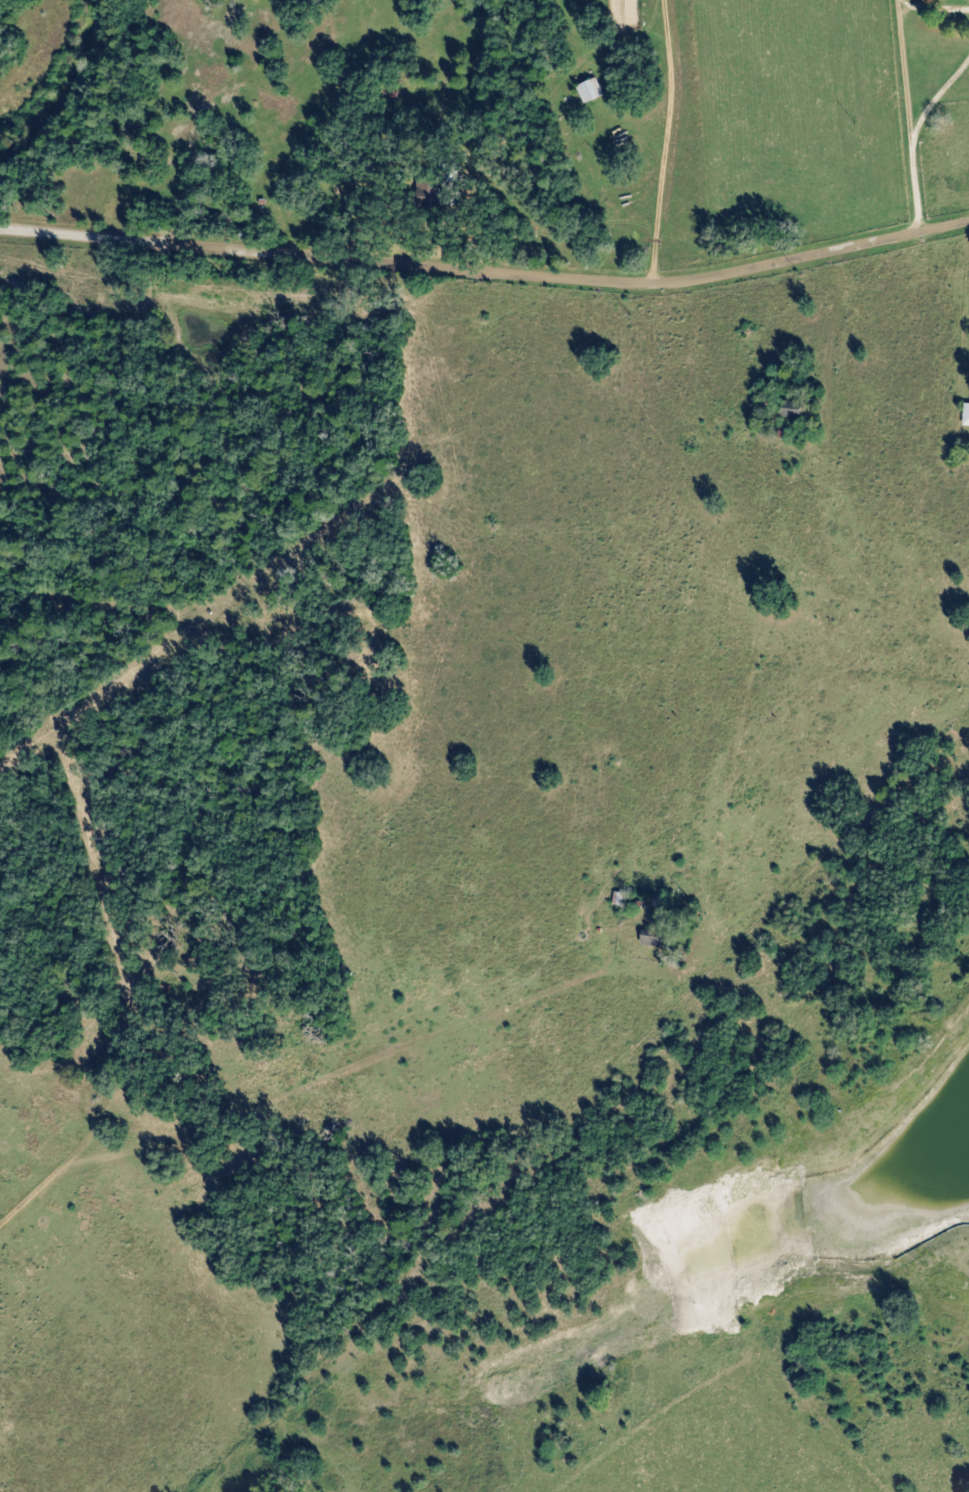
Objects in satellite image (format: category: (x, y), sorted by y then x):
building: (589, 90)
road: (486, 269)
building: (791, 409)
building: (966, 415)

